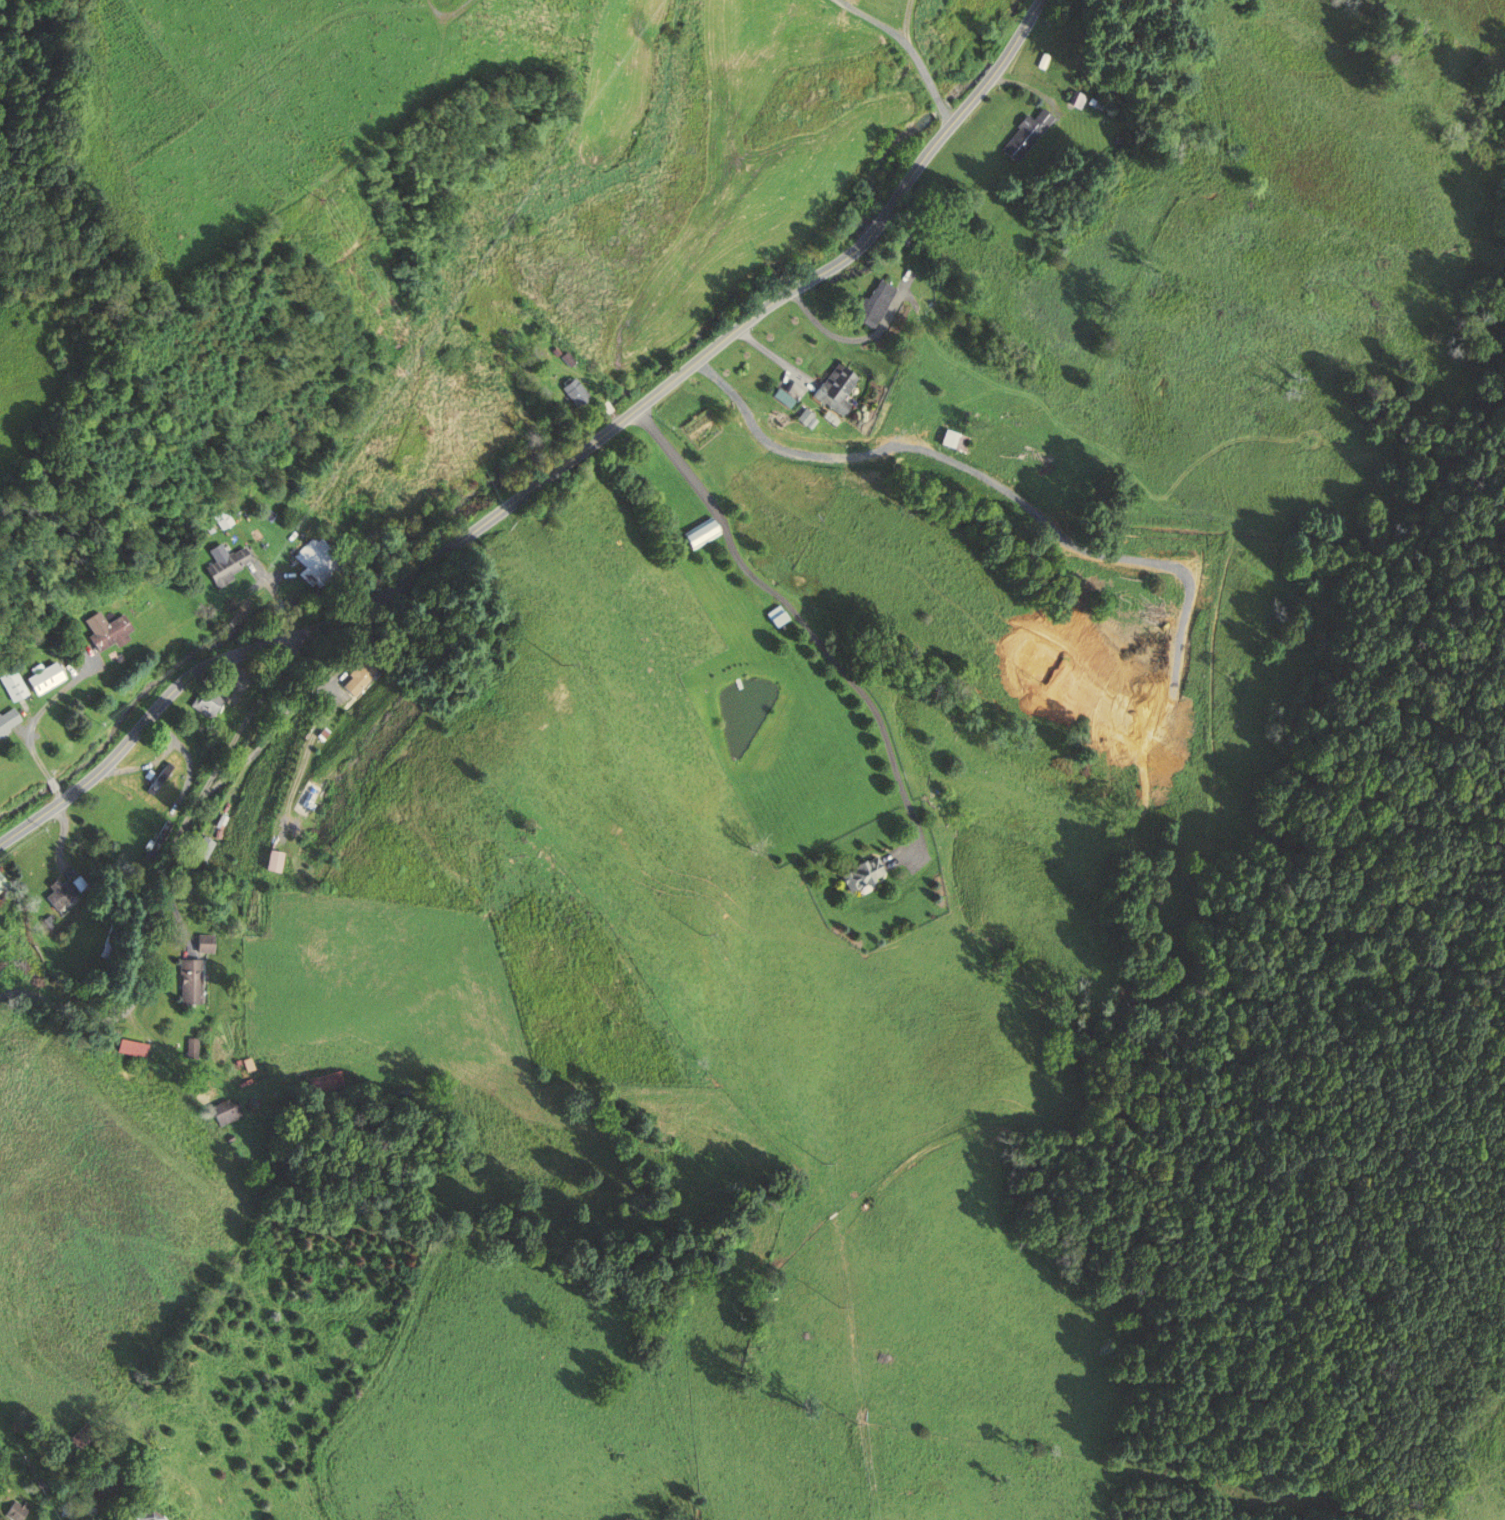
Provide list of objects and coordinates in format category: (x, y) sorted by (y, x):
road: (874, 20)
road: (919, 63)
building: (1074, 99)
building: (1019, 134)
building: (867, 303)
building: (833, 388)
building: (570, 391)
building: (779, 397)
building: (948, 441)
road: (782, 448)
road: (483, 523)
building: (695, 535)
building: (316, 558)
building: (226, 564)
road: (793, 609)
building: (772, 617)
building: (105, 631)
building: (355, 677)
building: (41, 679)
building: (12, 684)
road: (323, 690)
building: (206, 696)
building: (8, 720)
road: (139, 724)
building: (158, 779)
building: (301, 800)
building: (154, 842)
building: (196, 850)
building: (264, 862)
building: (855, 873)
building: (3, 883)
building: (56, 897)
building: (198, 944)
building: (182, 982)
building: (129, 1048)
building: (223, 1111)
building: (79, 1510)
building: (17, 1512)
building: (150, 1515)

